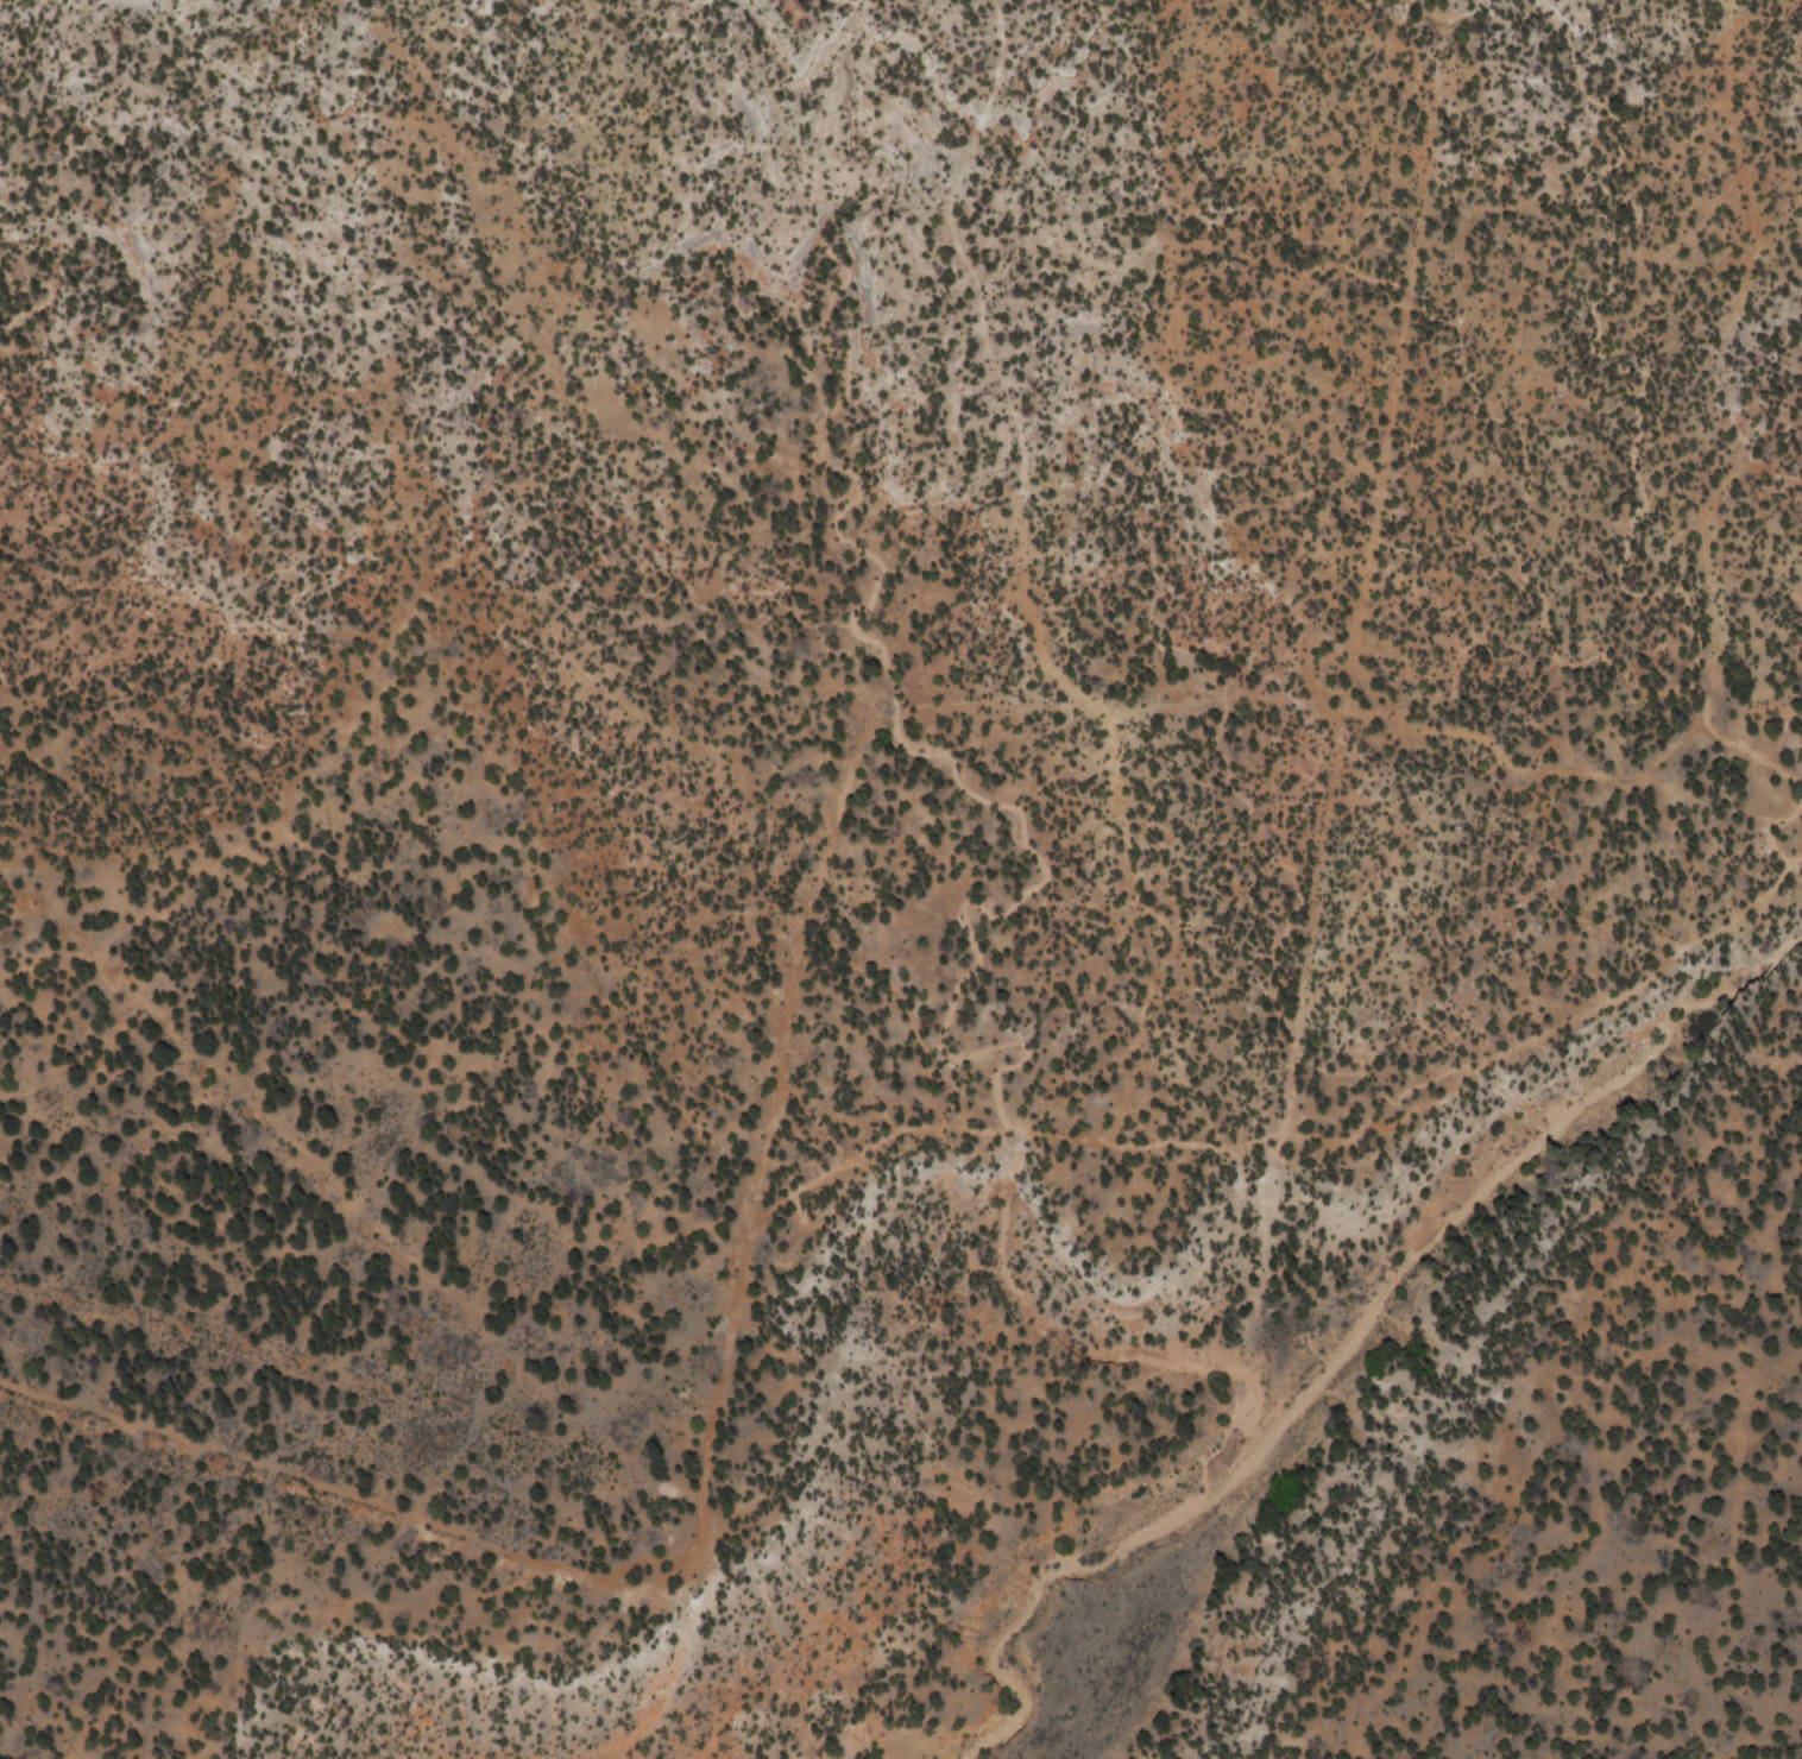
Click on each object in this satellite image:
road: (849, 782)
road: (1562, 1391)
road: (1759, 1528)

